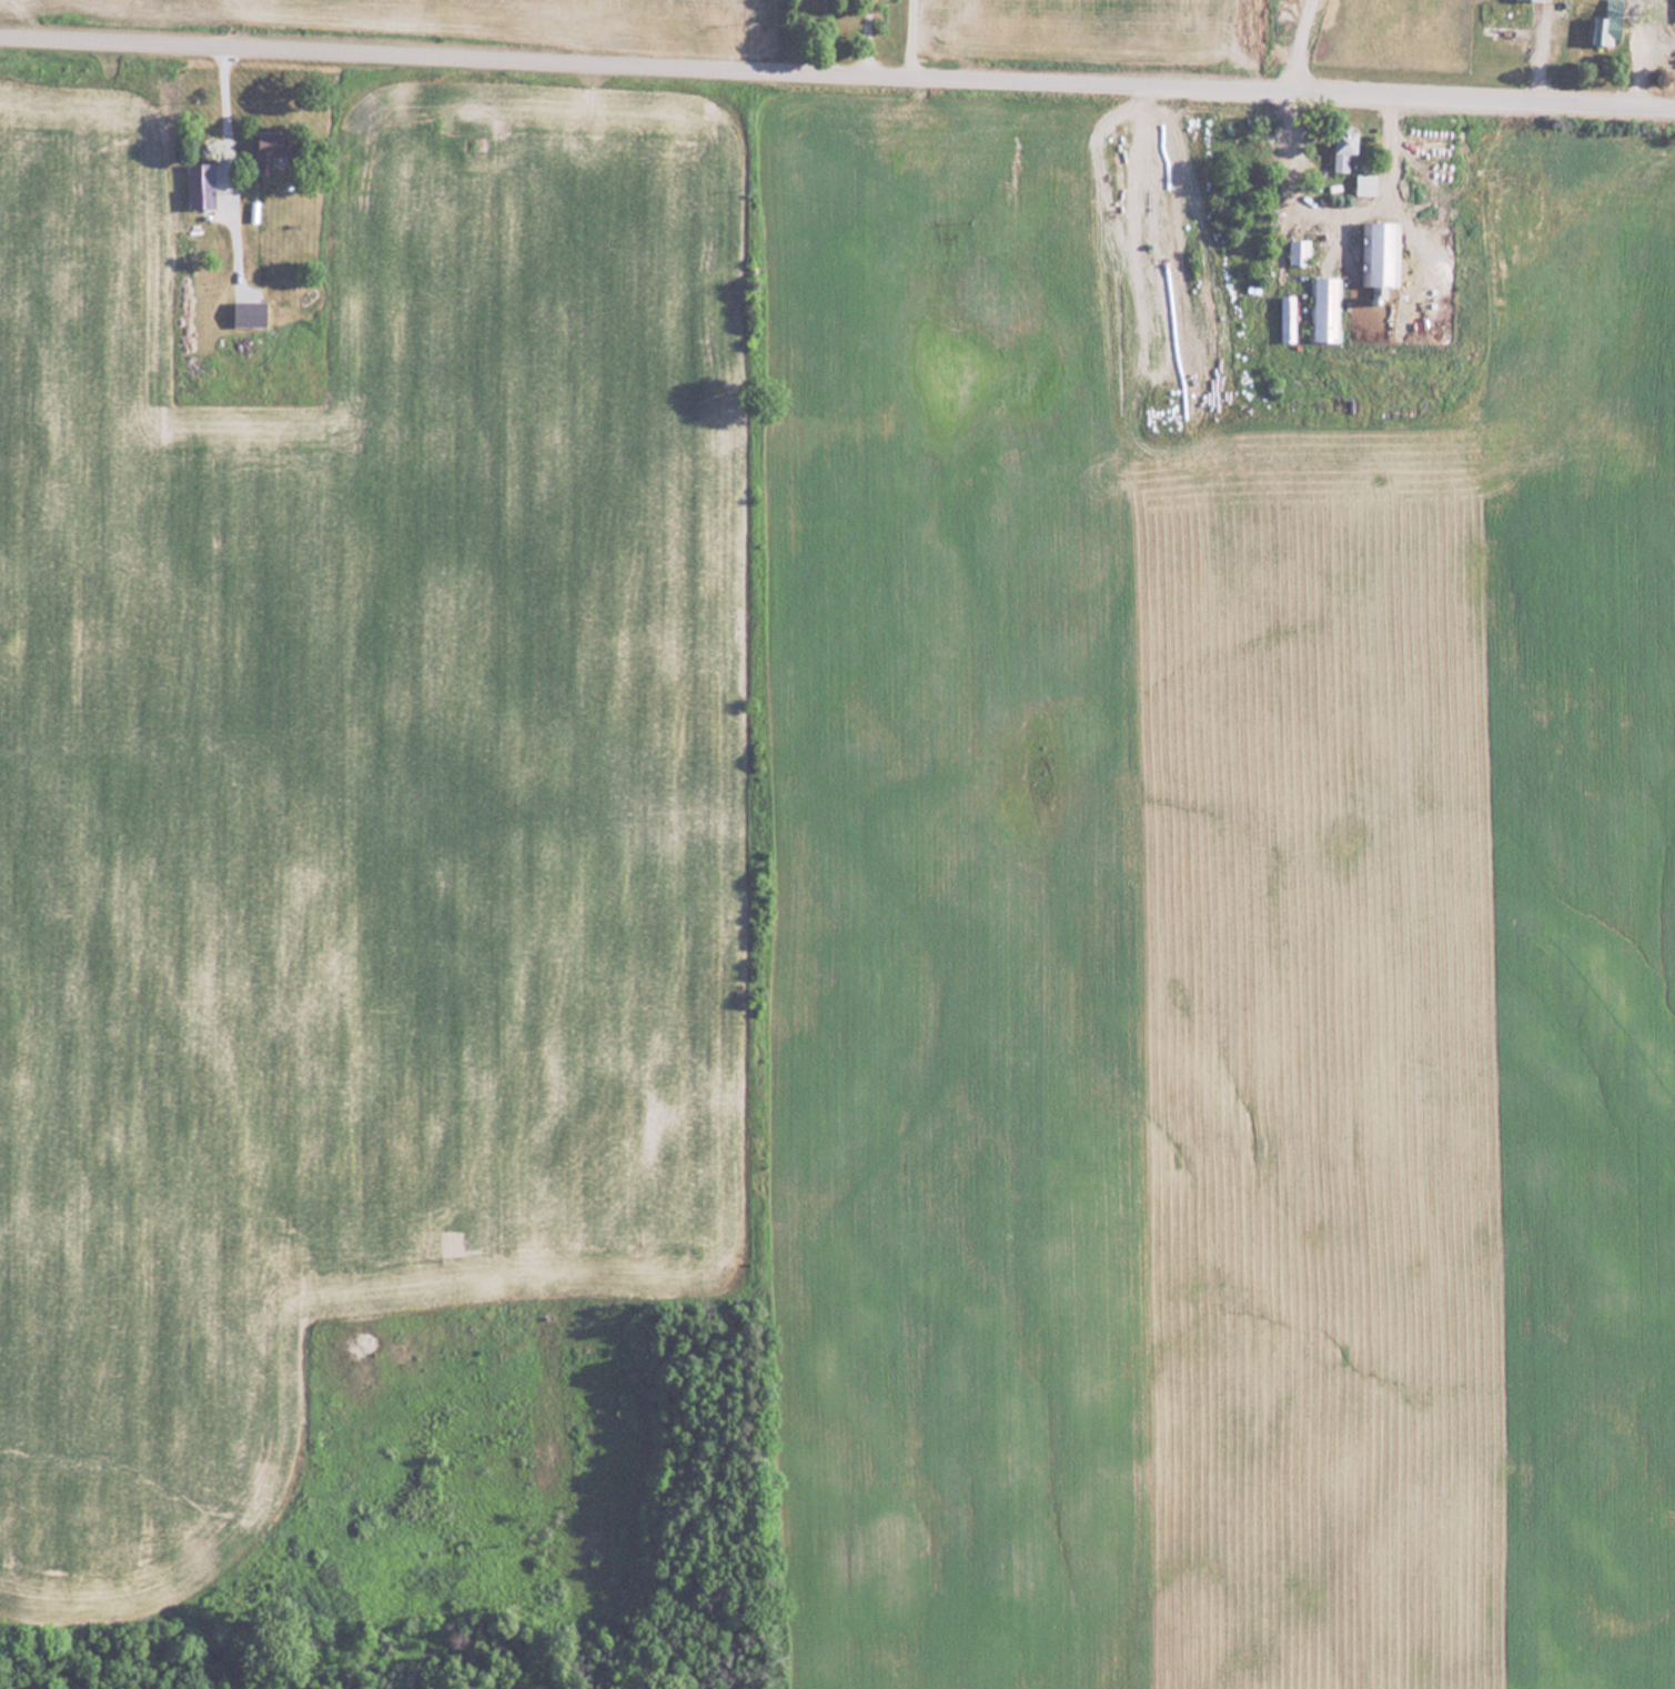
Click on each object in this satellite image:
building: (1542, 0)
building: (1605, 32)
road: (837, 76)
building: (271, 147)
building: (1345, 148)
building: (1366, 183)
building: (201, 184)
building: (1300, 251)
building: (1380, 253)
building: (1328, 308)
building: (252, 311)
building: (1289, 318)

